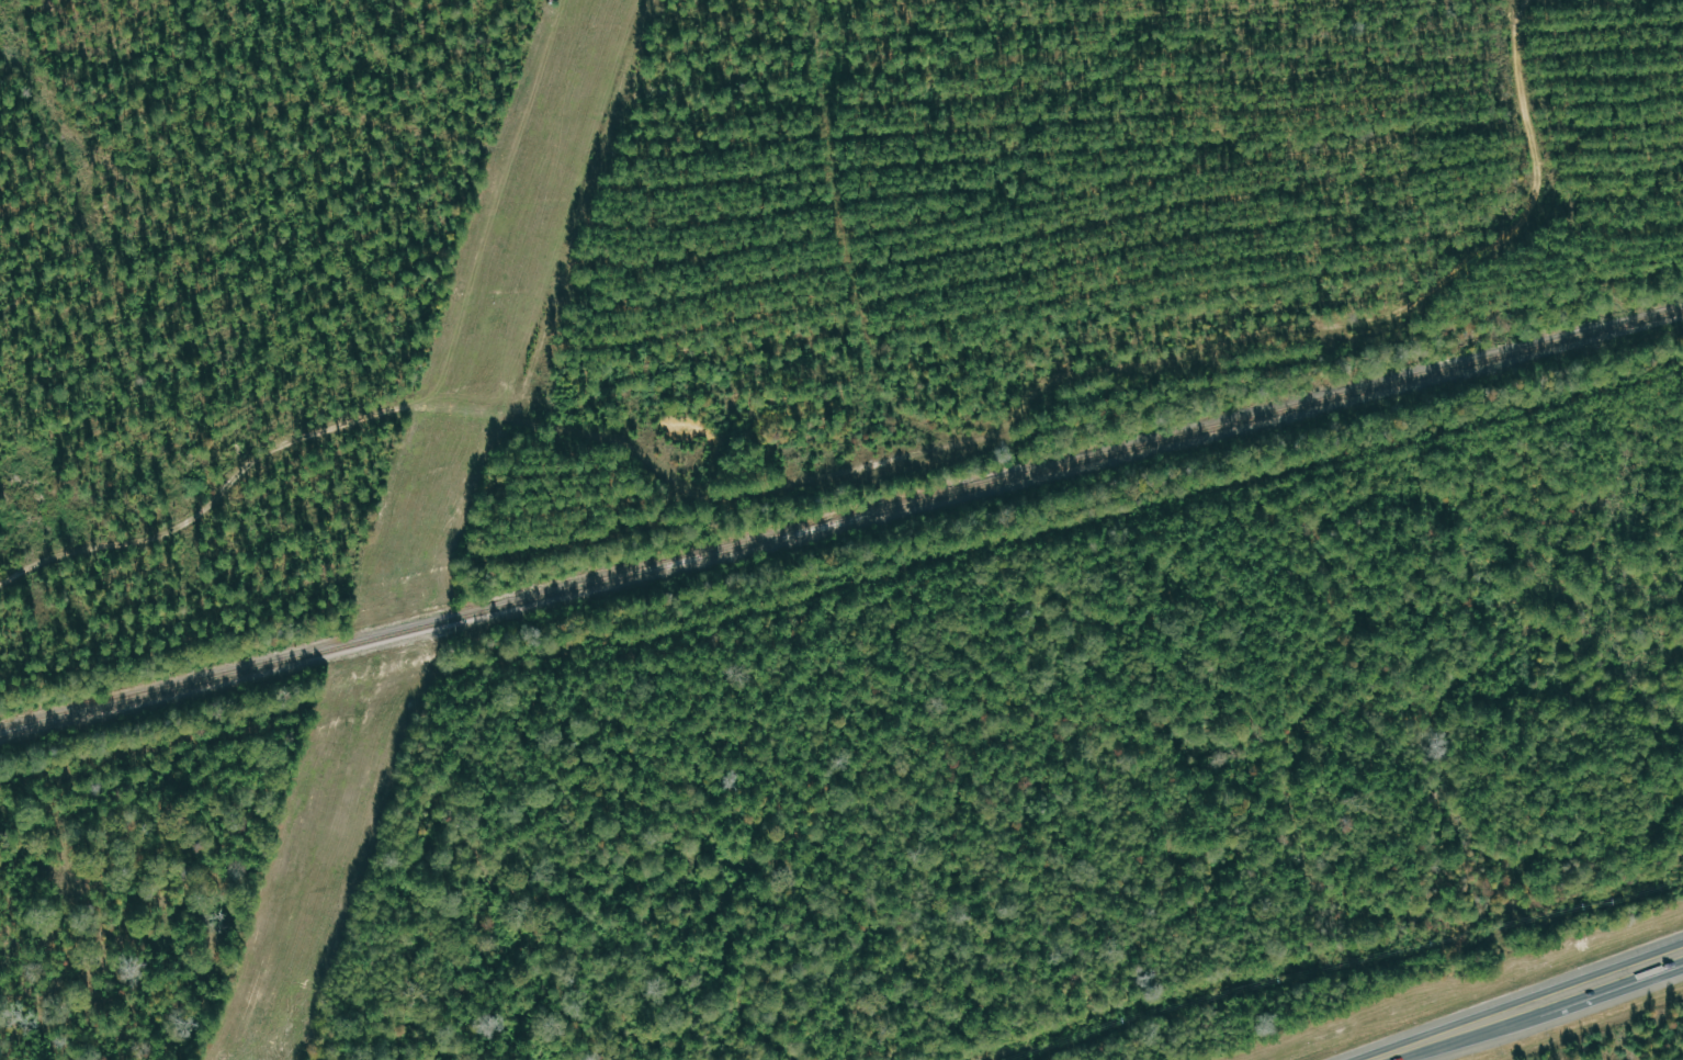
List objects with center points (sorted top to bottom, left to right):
railway: (841, 521)
road: (1612, 978)
road: (1457, 1030)

